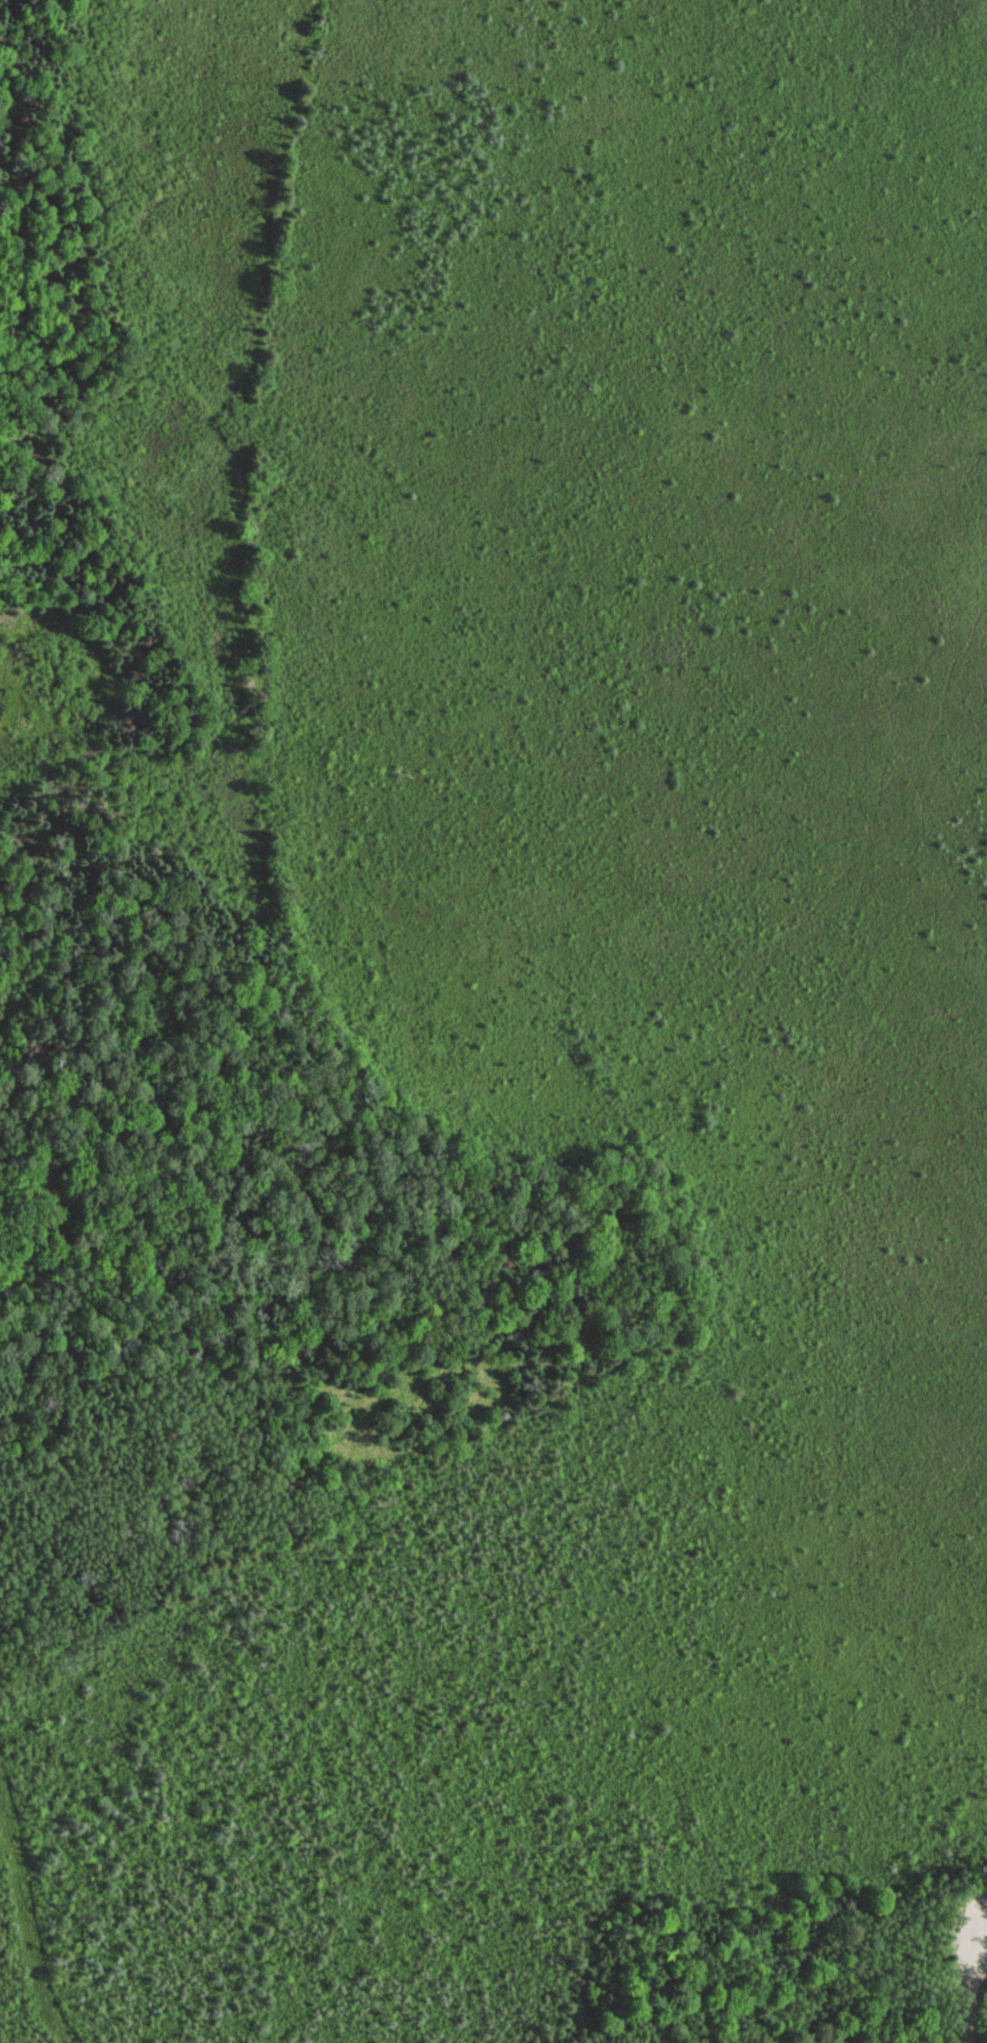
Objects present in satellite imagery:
road: (961, 1987)

